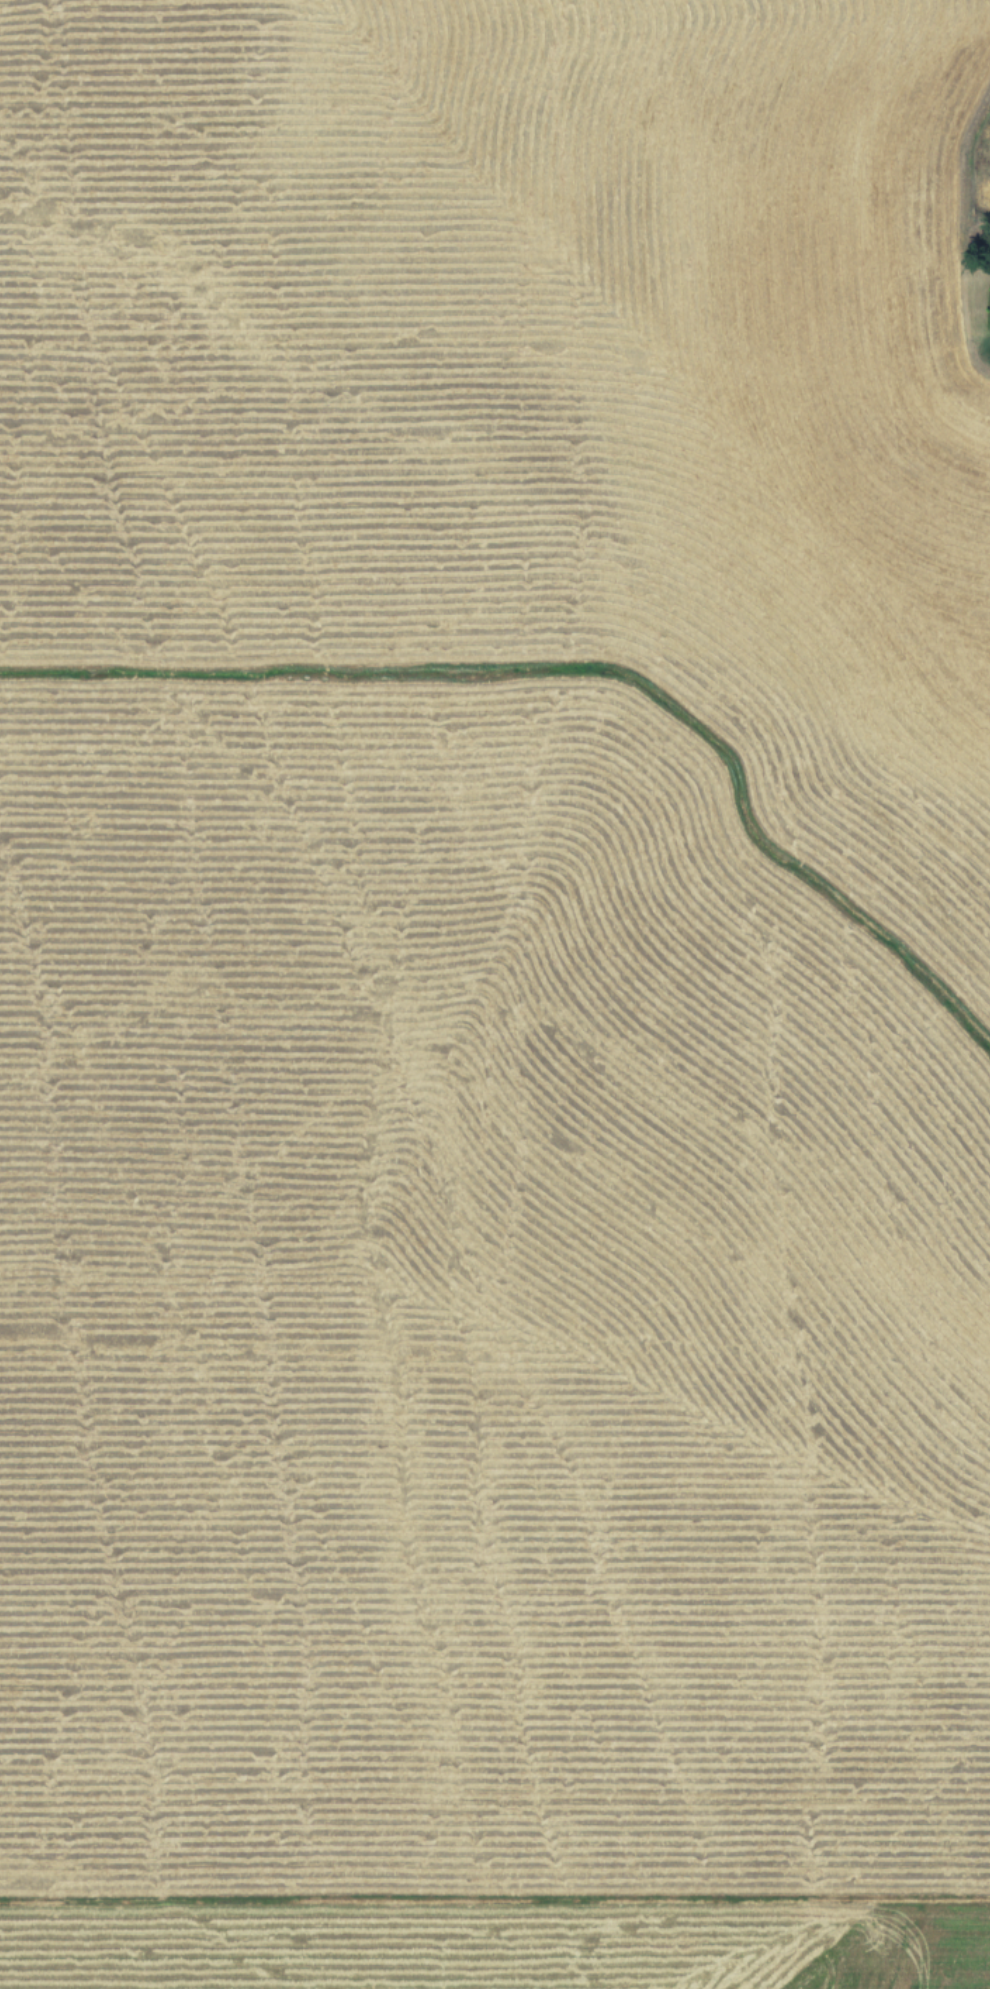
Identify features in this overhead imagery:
crop: (495, 994)

